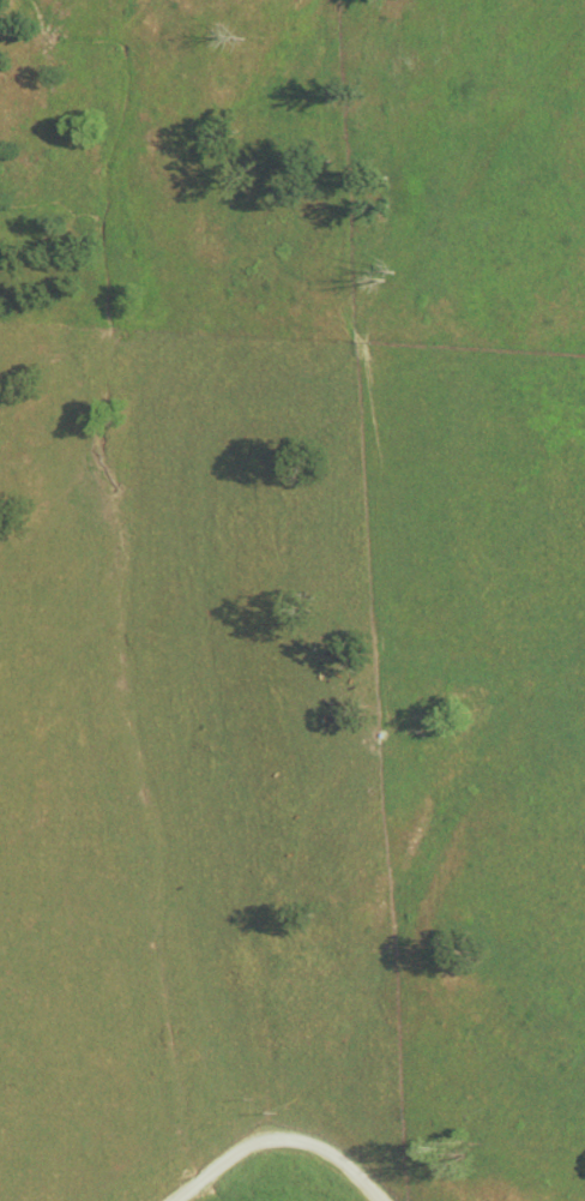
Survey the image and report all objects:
road: (278, 1139)

